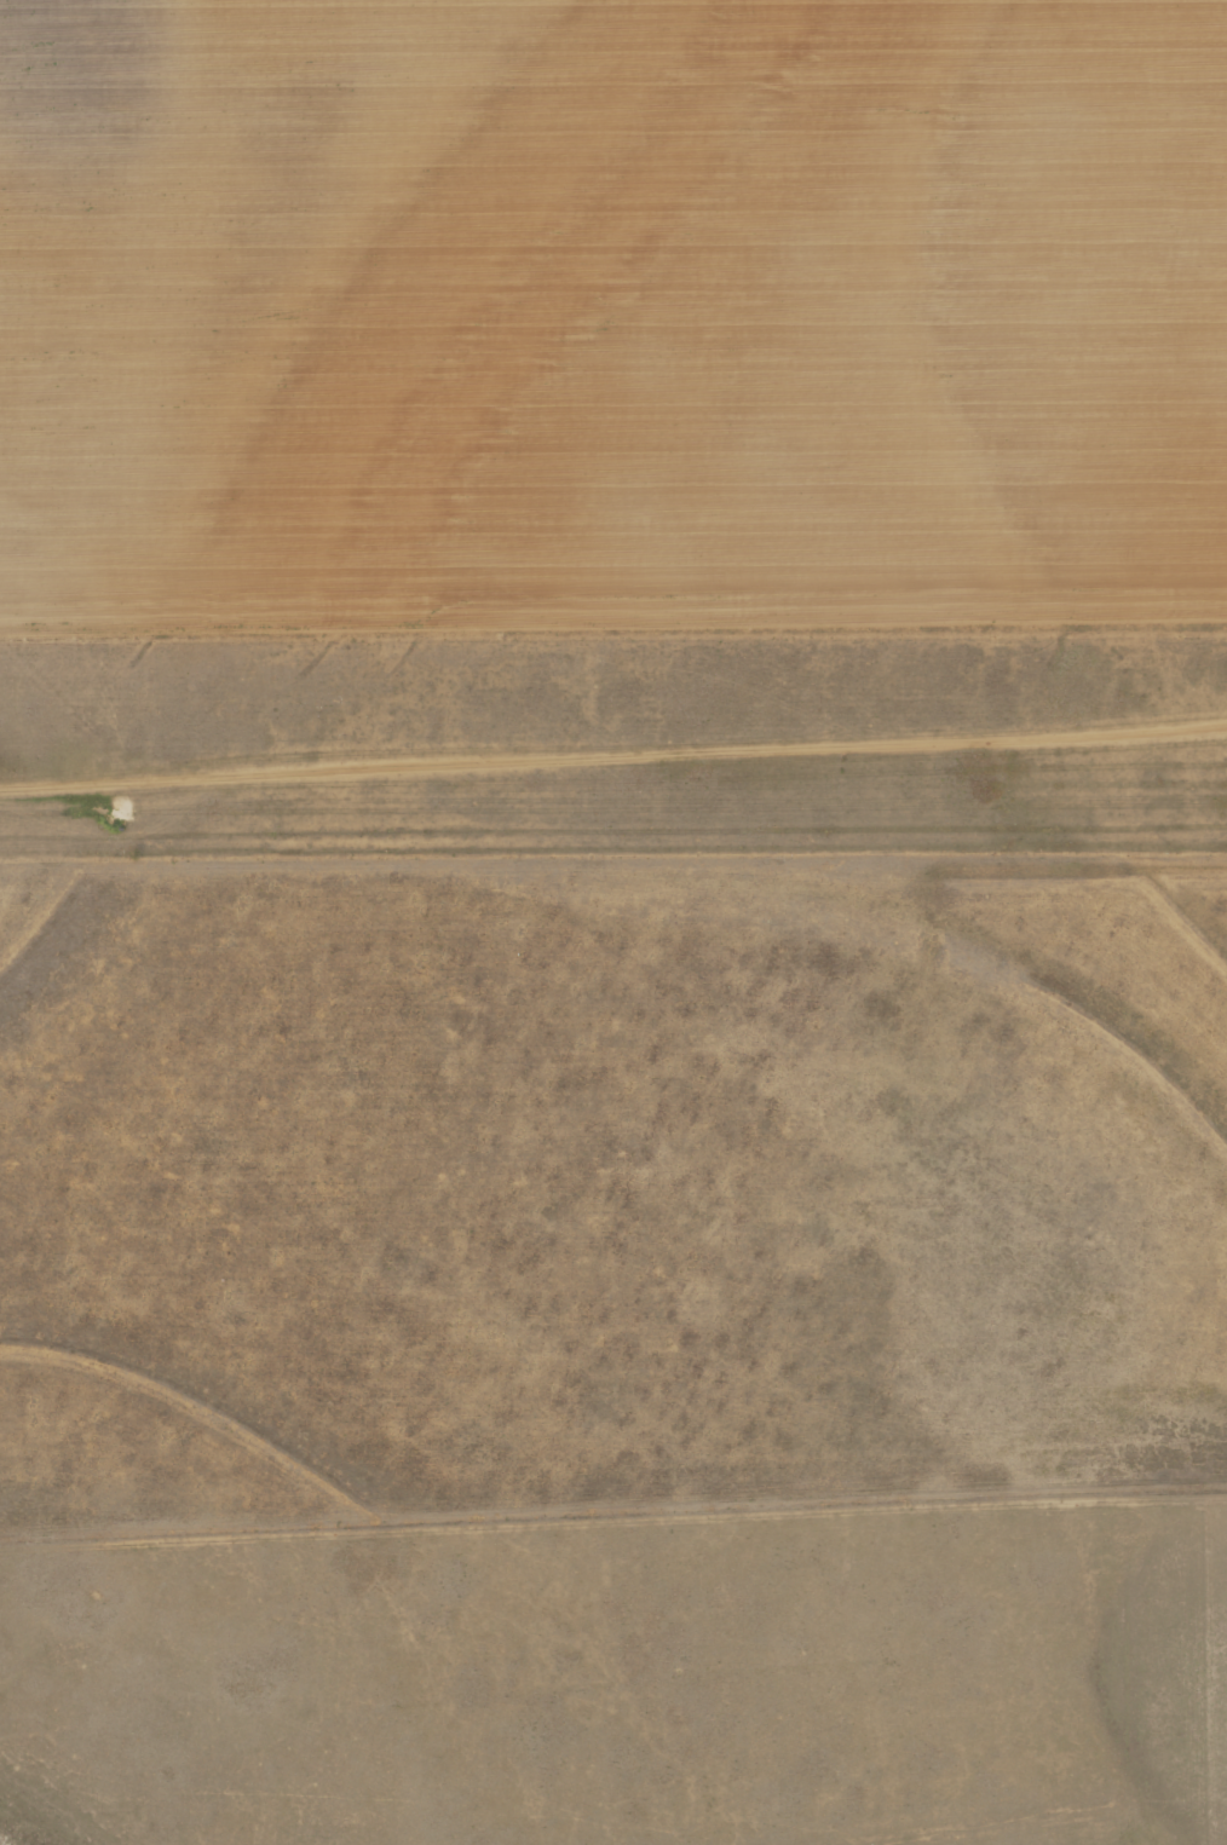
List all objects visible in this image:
road: (612, 756)

